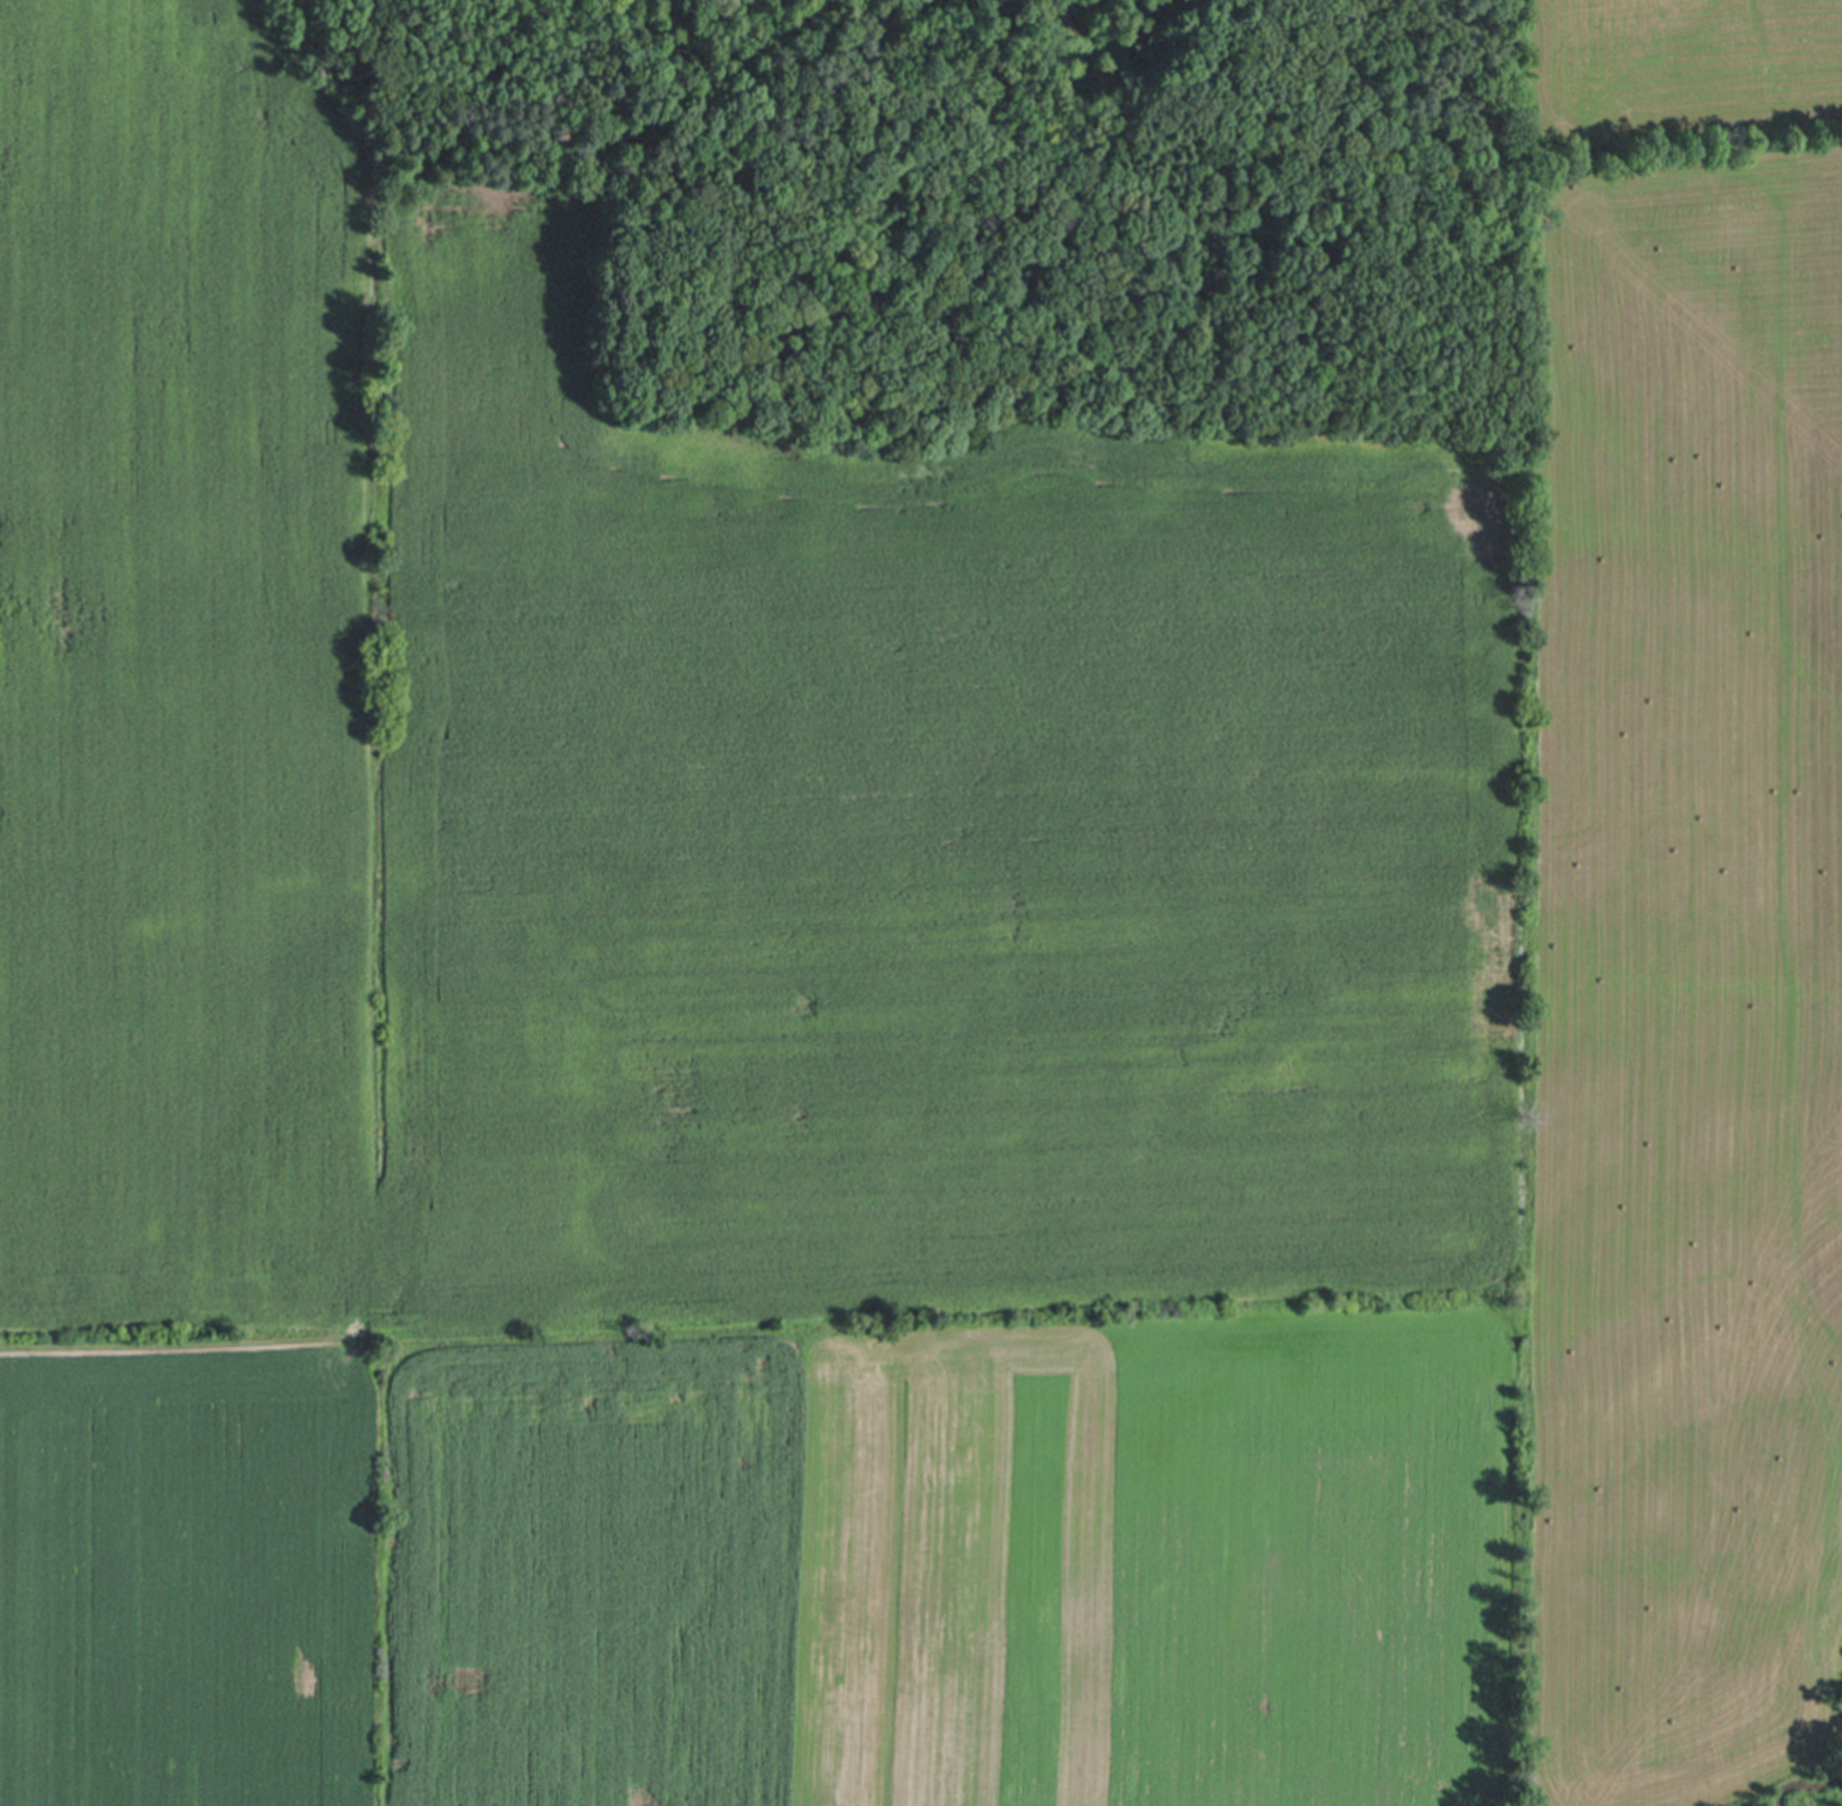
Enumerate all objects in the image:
river: (722, 53)

